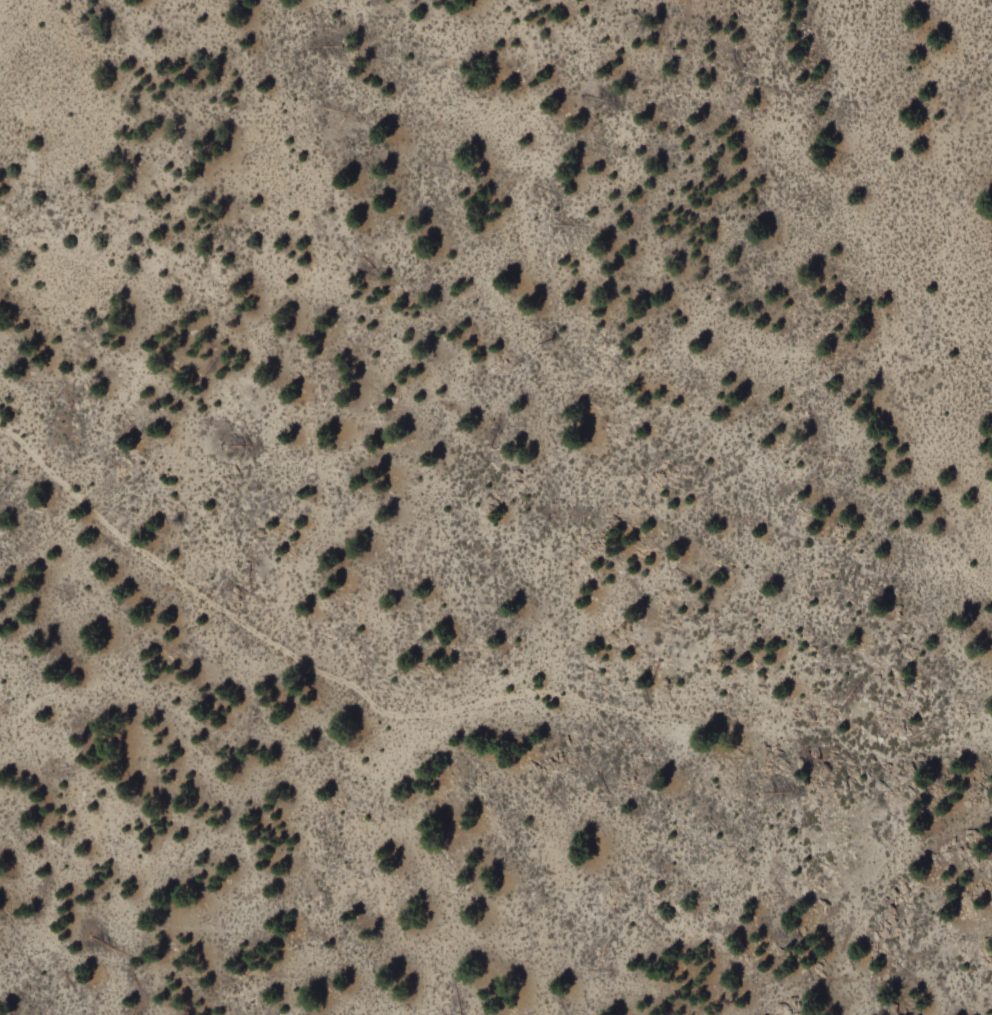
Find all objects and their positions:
road: (452, 716)

